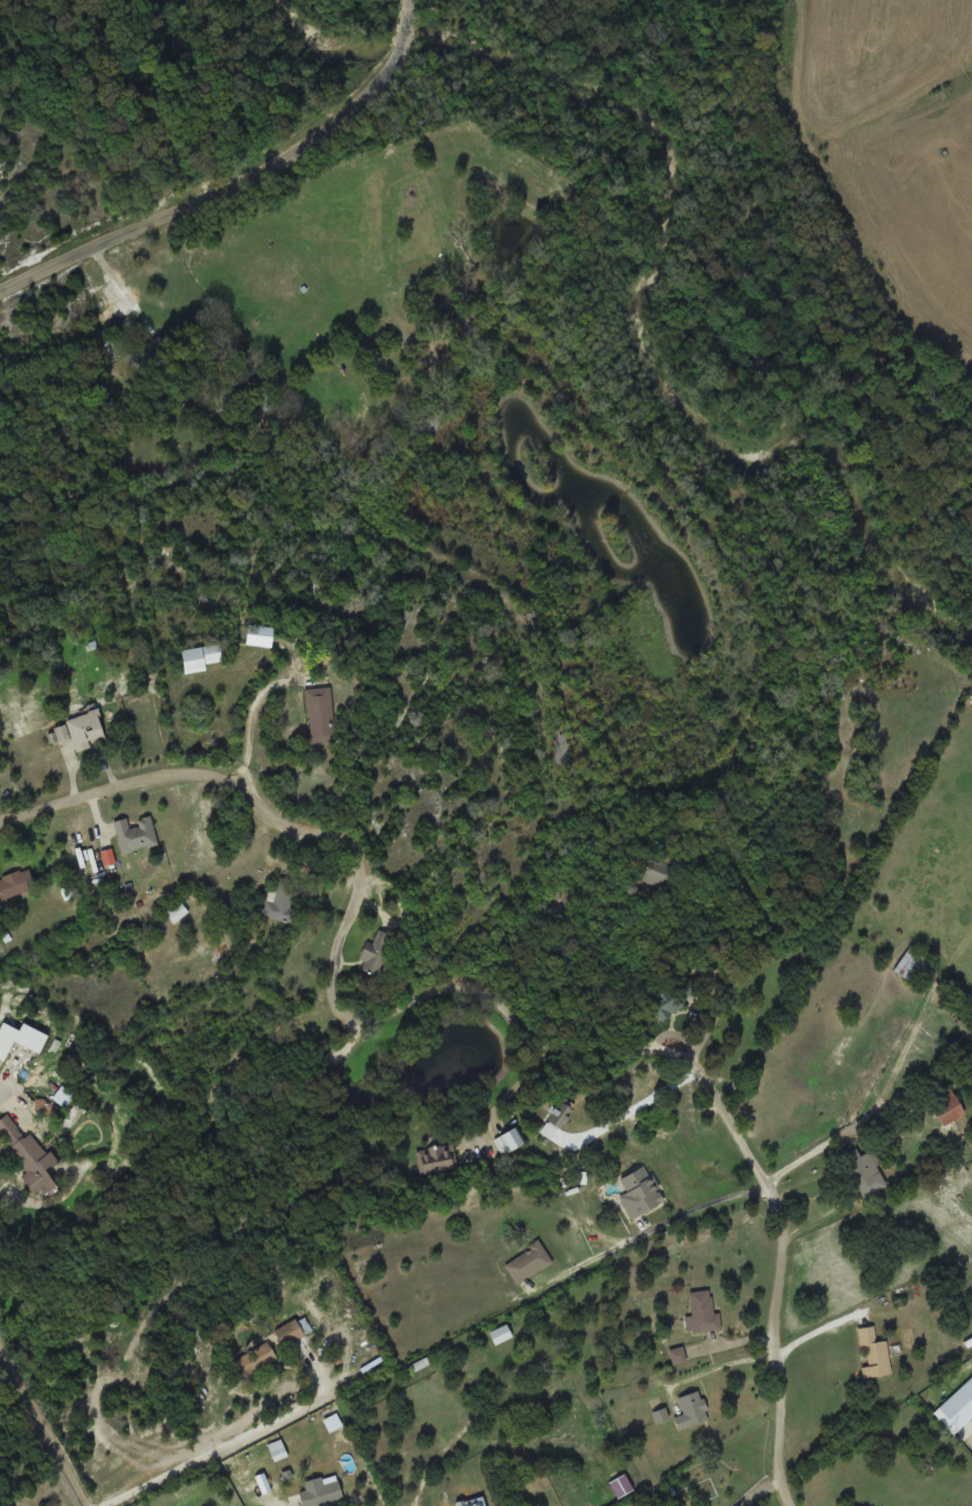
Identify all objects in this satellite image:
road: (410, 2)
road: (407, 25)
road: (222, 198)
building: (148, 352)
building: (432, 426)
building: (256, 634)
building: (197, 655)
building: (320, 713)
building: (80, 729)
road: (197, 775)
building: (136, 833)
building: (648, 875)
building: (16, 883)
building: (280, 899)
building: (177, 911)
building: (378, 954)
building: (912, 964)
building: (669, 1007)
building: (21, 1038)
building: (62, 1096)
building: (945, 1106)
building: (559, 1119)
building: (511, 1138)
building: (27, 1152)
building: (437, 1158)
building: (865, 1171)
building: (634, 1193)
building: (529, 1261)
road: (777, 1267)
building: (703, 1311)
building: (288, 1332)
building: (500, 1334)
building: (874, 1352)
building: (678, 1354)
building: (254, 1358)
building: (692, 1409)
road: (35, 1438)
building: (620, 1485)
building: (321, 1492)
building: (471, 1501)

